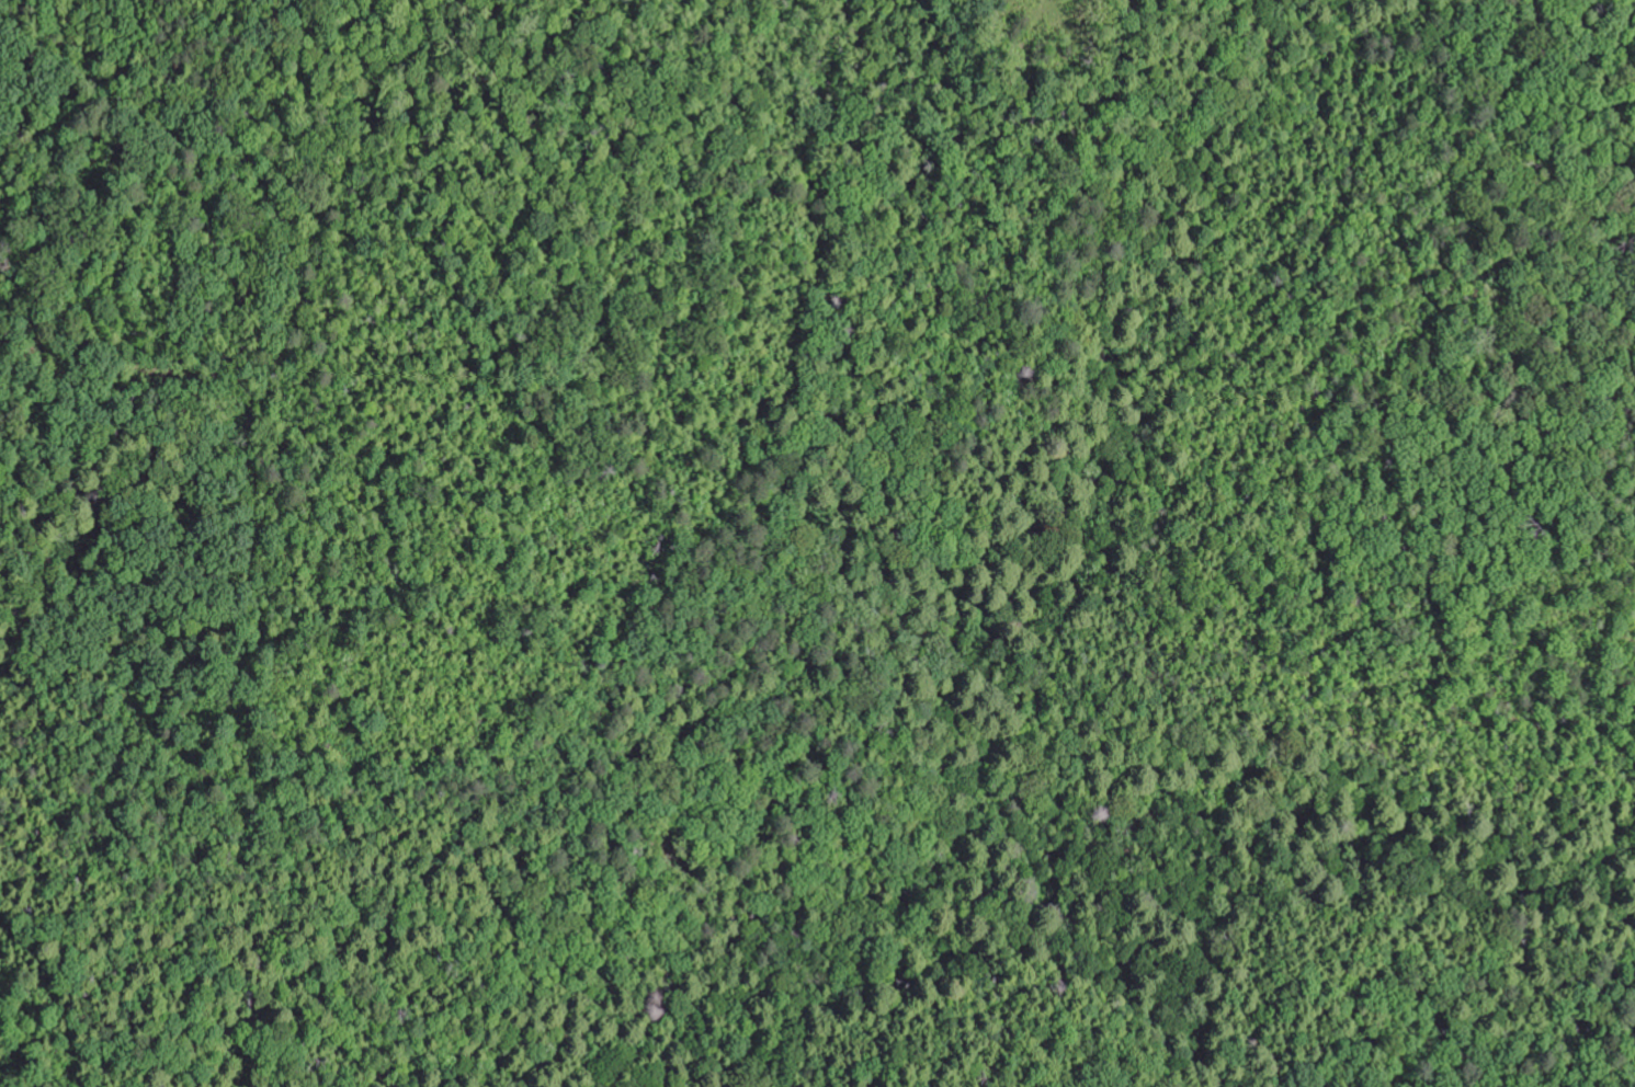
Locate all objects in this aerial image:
road: (1604, 295)

